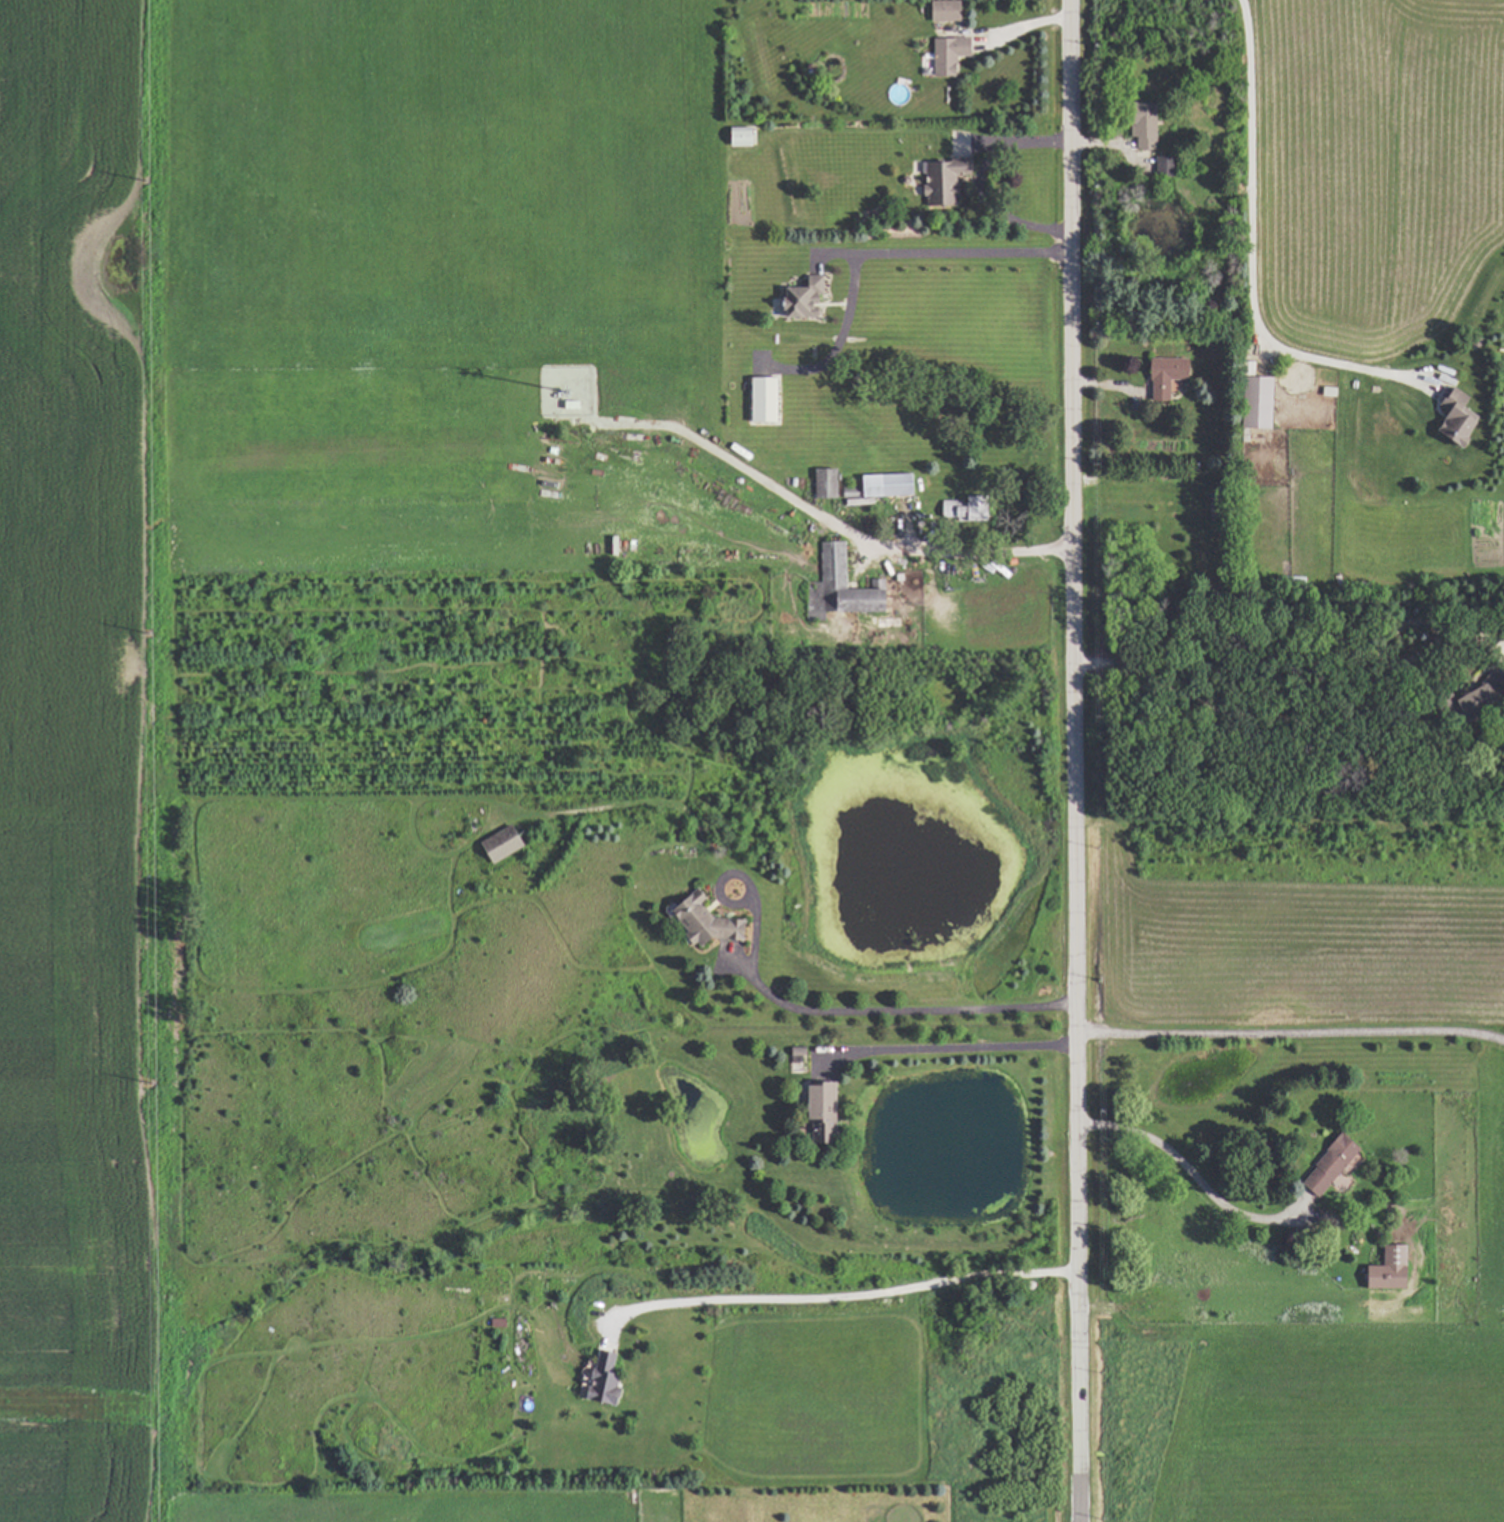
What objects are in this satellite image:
building: (939, 10)
road: (1014, 26)
building: (942, 55)
building: (1139, 125)
building: (735, 136)
road: (976, 179)
building: (938, 181)
road: (870, 245)
road: (1249, 255)
building: (796, 298)
building: (1159, 376)
building: (1249, 397)
building: (760, 399)
building: (1449, 417)
building: (821, 483)
building: (878, 487)
building: (961, 508)
road: (829, 522)
building: (838, 587)
road: (1073, 760)
building: (499, 845)
building: (699, 922)
road: (892, 1011)
road: (1290, 1032)
road: (948, 1046)
building: (814, 1109)
building: (1324, 1166)
road: (1192, 1172)
building: (1385, 1270)
road: (842, 1296)
building: (601, 1382)

